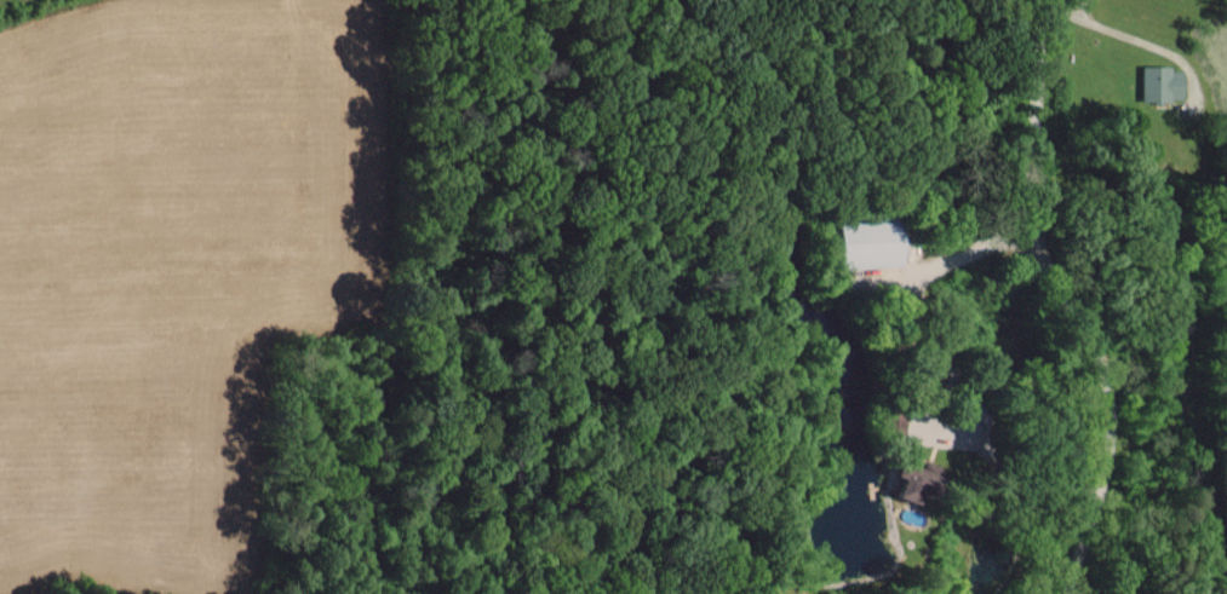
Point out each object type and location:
road: (1037, 51)
building: (1157, 81)
building: (866, 242)
road: (1089, 346)
road: (952, 374)
road: (913, 415)
building: (893, 421)
building: (908, 478)

